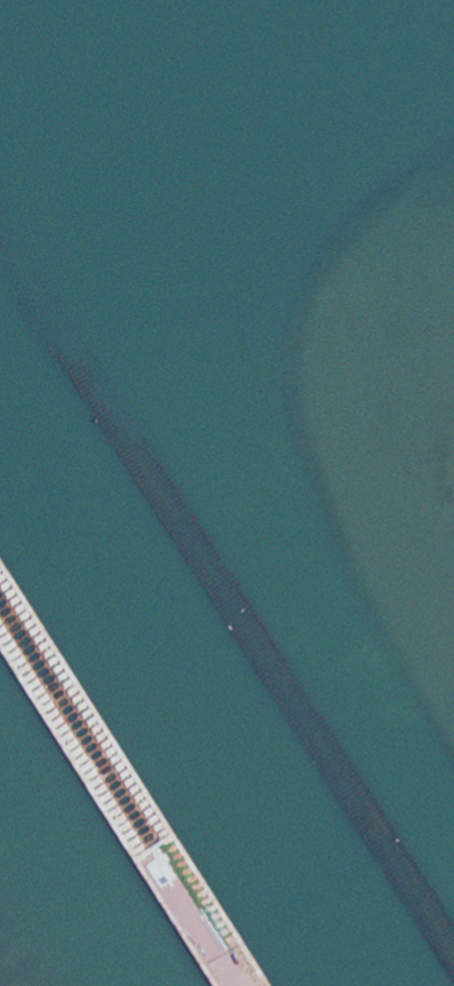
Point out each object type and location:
park: (122, 794)

